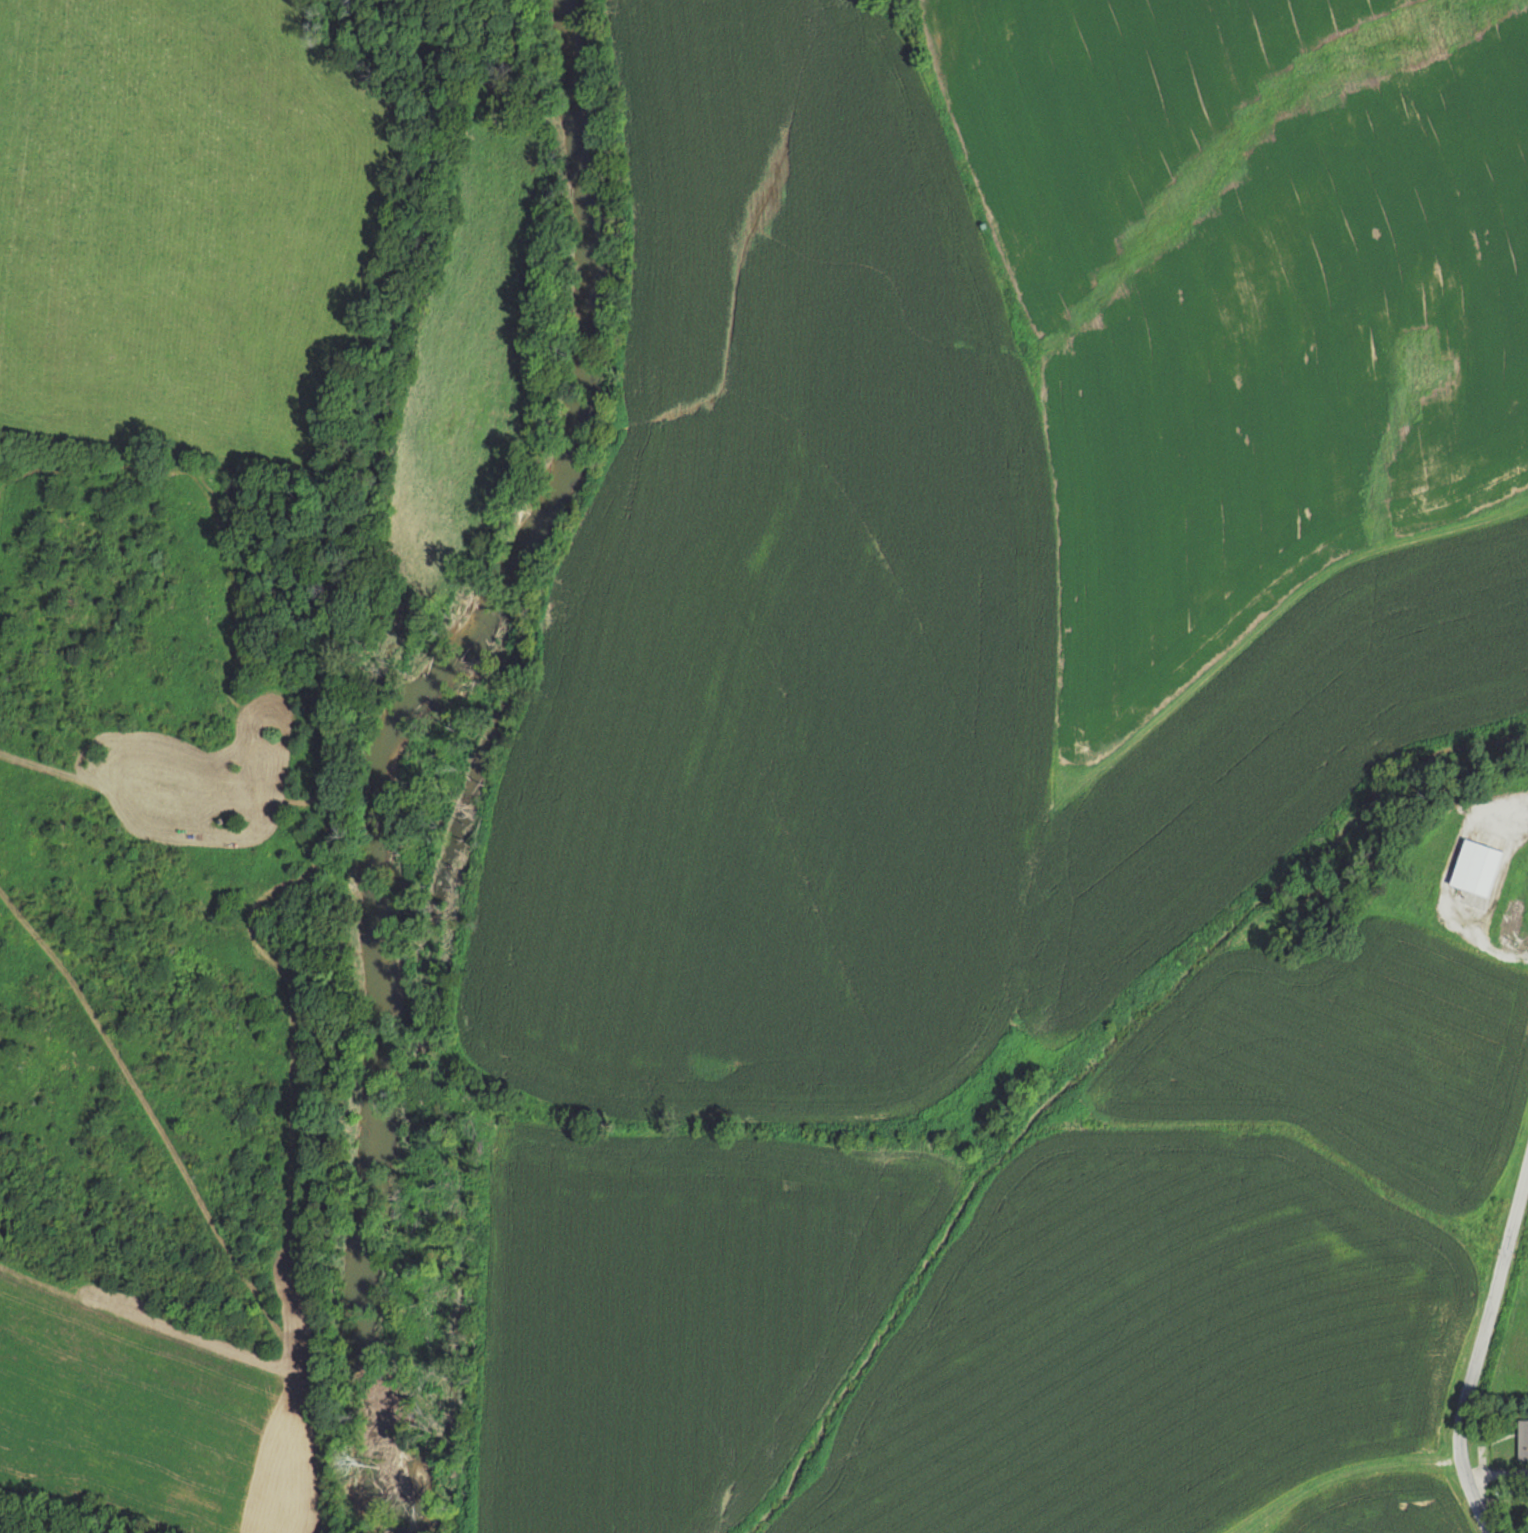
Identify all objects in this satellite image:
river: (393, 741)
building: (1473, 867)
building: (1526, 911)
road: (1482, 1370)
building: (1522, 1438)

